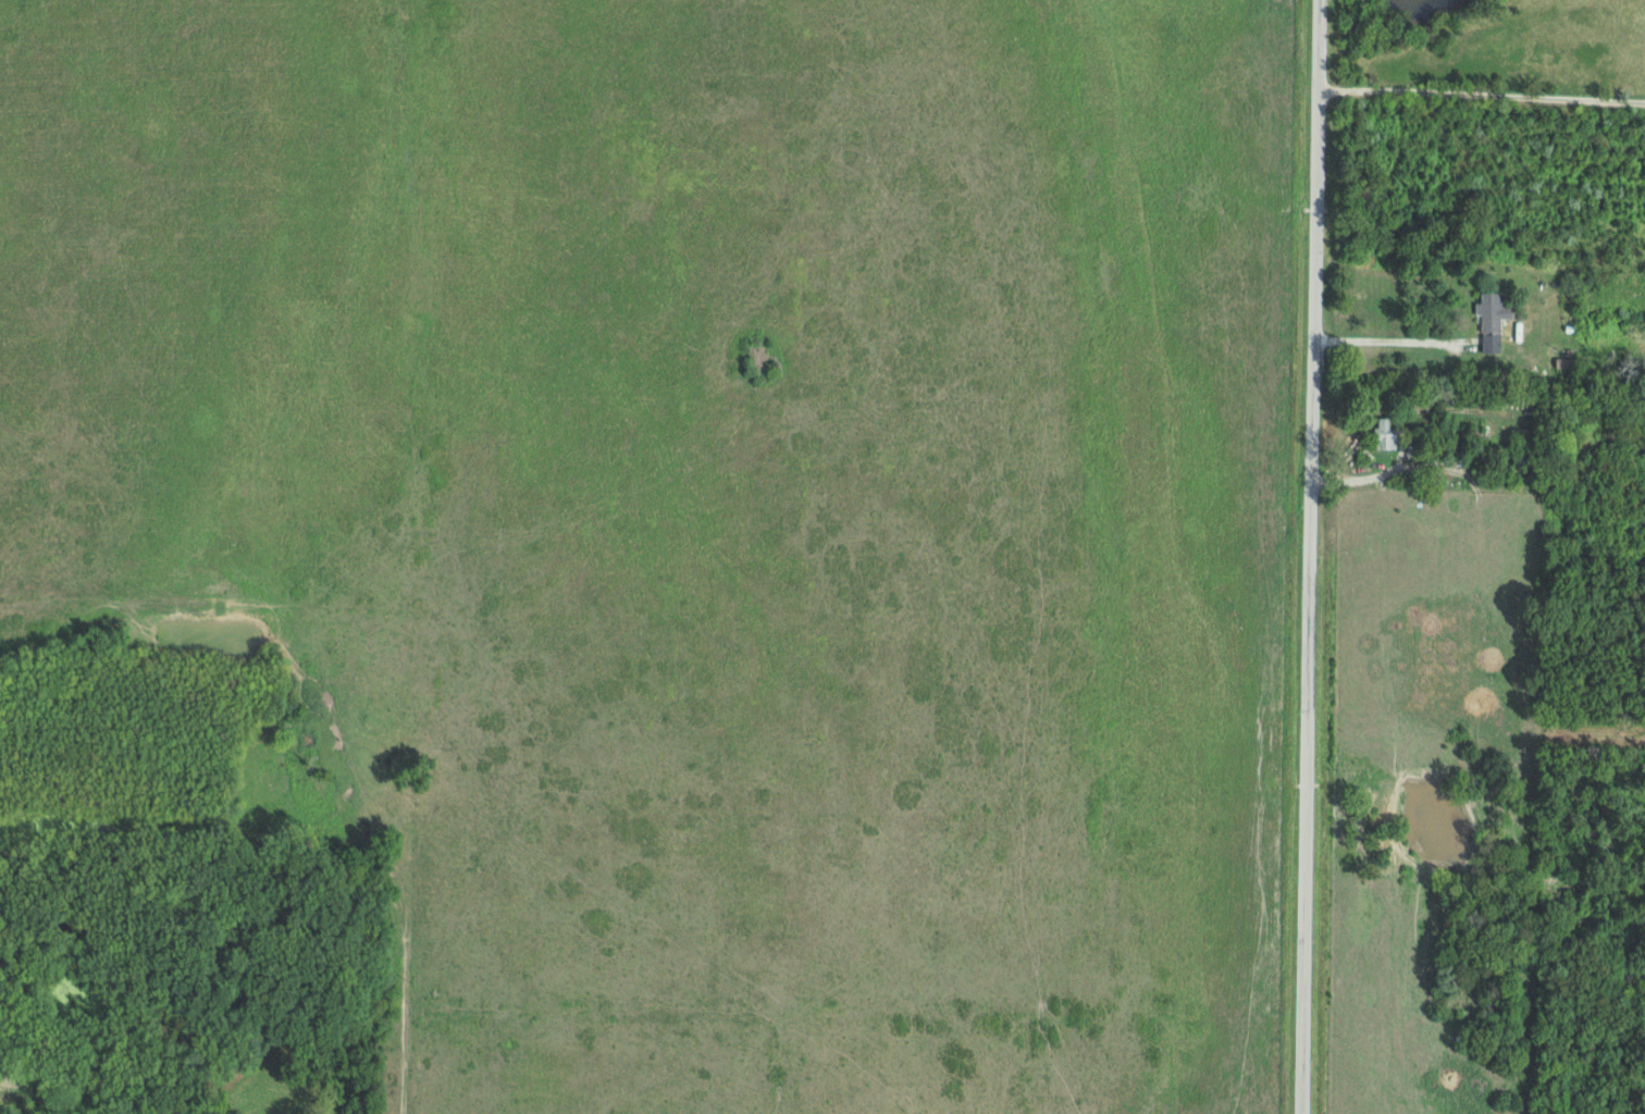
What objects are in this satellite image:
road: (1480, 94)
building: (1494, 321)
road: (1393, 339)
building: (1387, 436)
road: (1308, 557)

